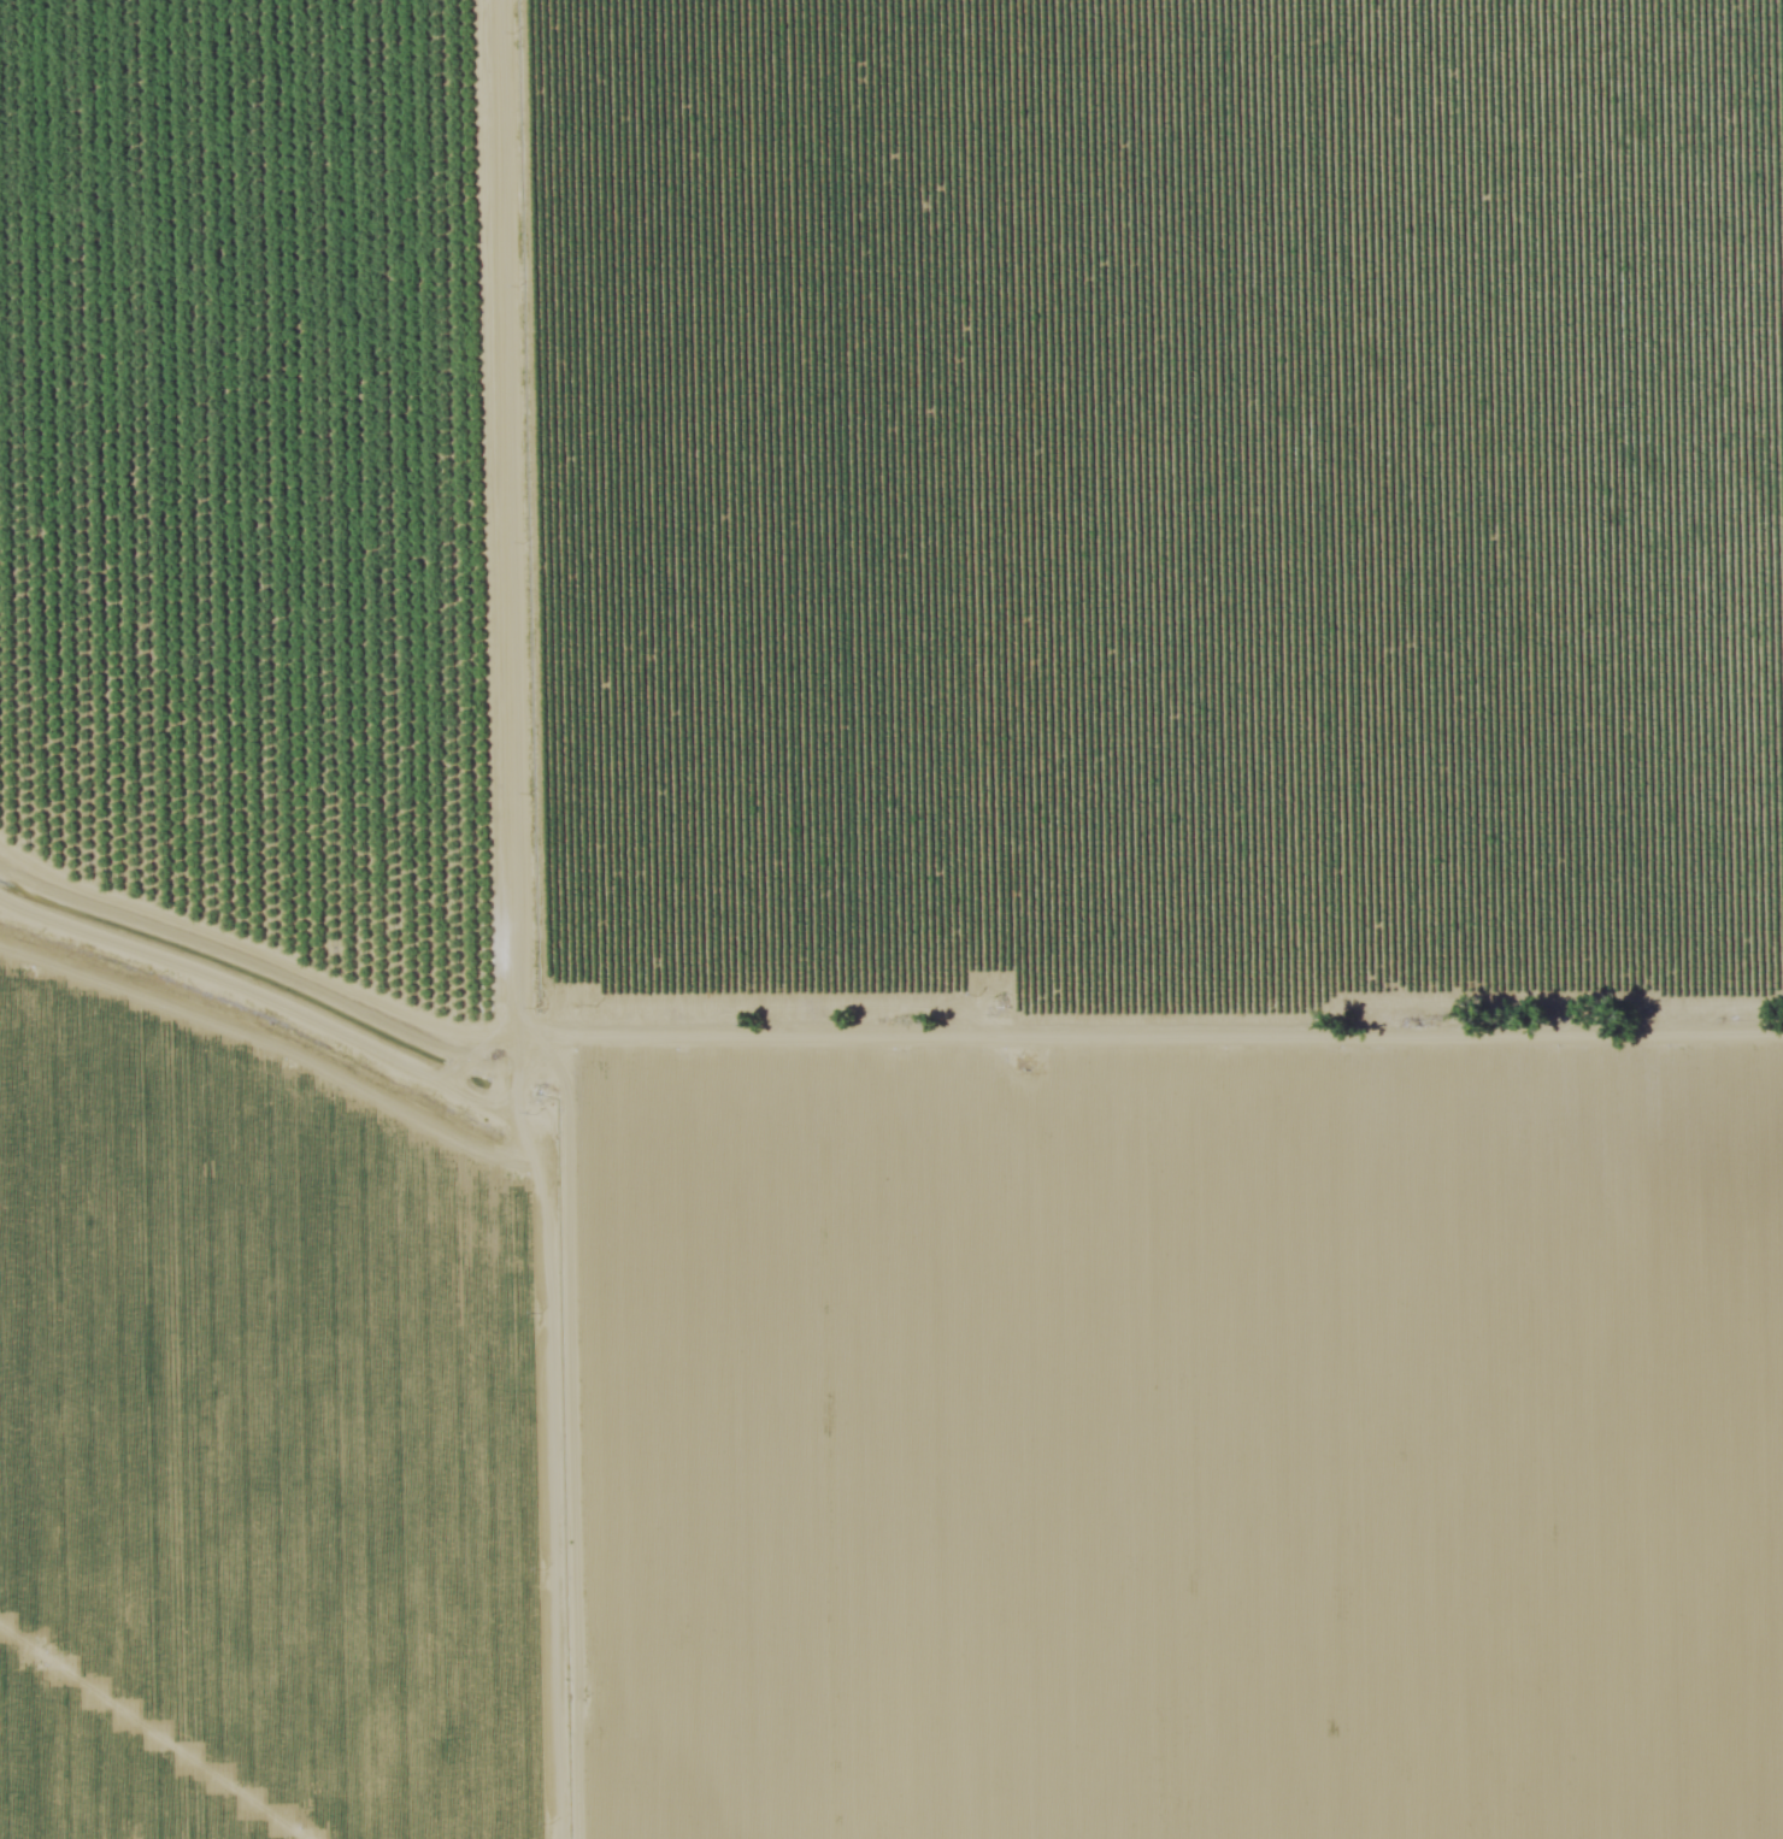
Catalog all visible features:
crop: (251, 490)
crop: (258, 1437)
crop: (1177, 1458)

